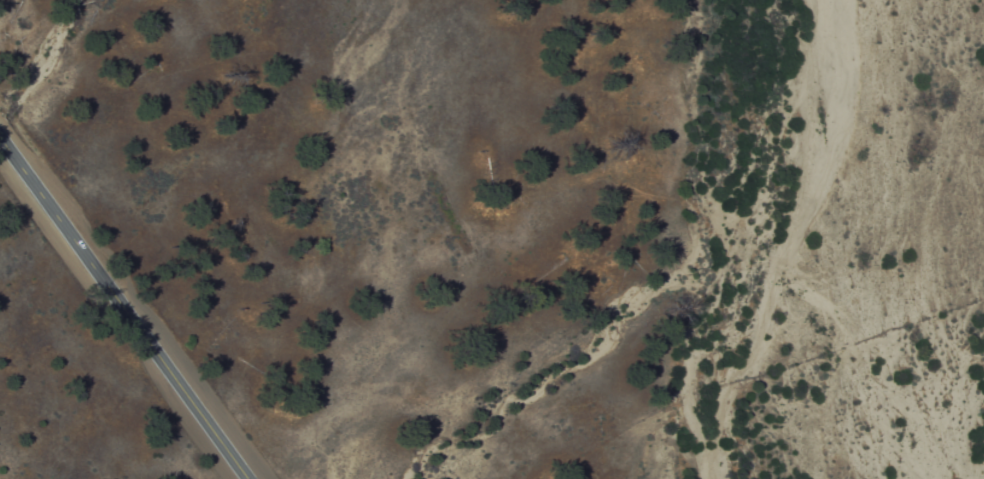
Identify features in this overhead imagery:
river: (730, 239)
road: (122, 308)

